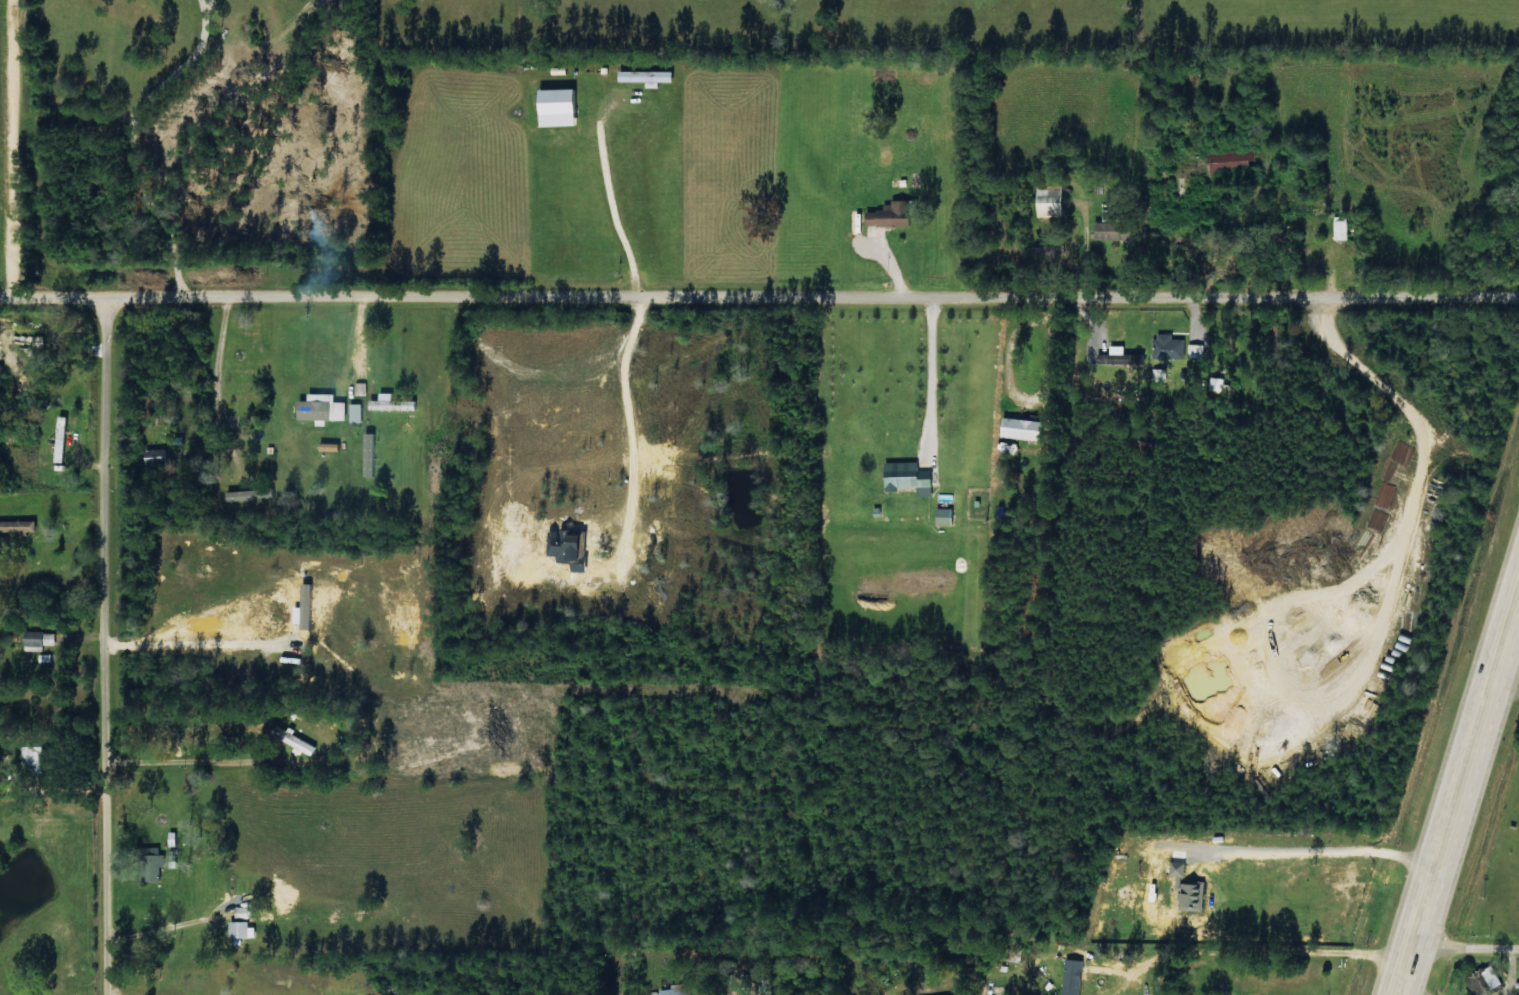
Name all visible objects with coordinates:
building: (644, 77)
building: (553, 108)
road: (33, 151)
building: (1229, 160)
building: (1047, 201)
building: (888, 215)
building: (1111, 230)
building: (1339, 230)
road: (51, 300)
road: (811, 305)
building: (1217, 385)
building: (361, 388)
building: (393, 403)
building: (323, 407)
building: (357, 412)
road: (1213, 422)
building: (1019, 429)
building: (63, 439)
building: (371, 454)
building: (157, 456)
building: (905, 477)
building: (251, 494)
building: (943, 516)
building: (19, 526)
building: (40, 640)
road: (112, 646)
building: (35, 758)
road: (1457, 792)
building: (173, 839)
building: (153, 864)
building: (244, 922)
road: (1464, 952)
building: (1072, 977)
building: (1482, 980)
building: (680, 990)

